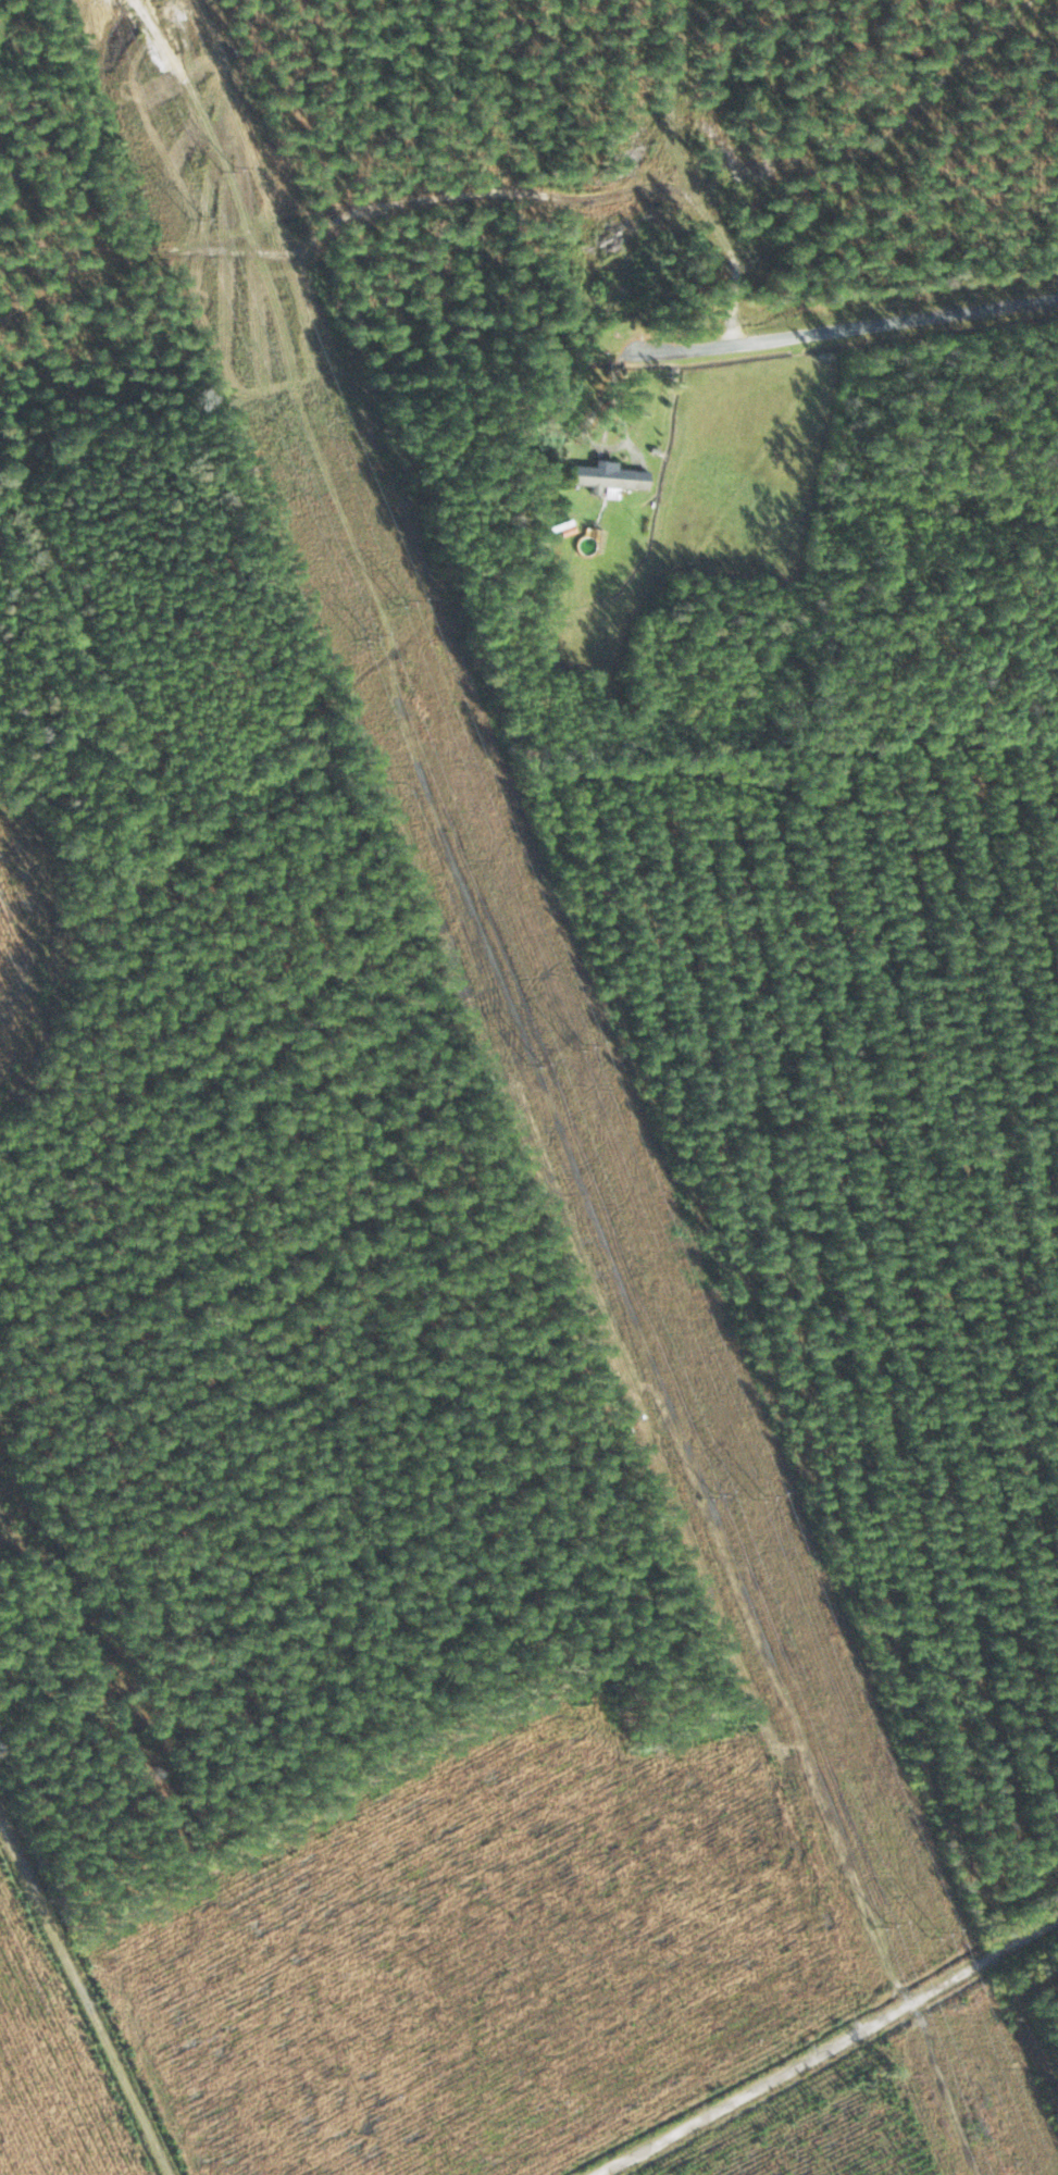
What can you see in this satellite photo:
power tower: (228, 167)
power tower: (197, 217)
road: (821, 323)
building: (608, 477)
power tower: (401, 601)
power tower: (362, 634)
power tower: (575, 1045)
power tower: (534, 1061)
power tower: (757, 1495)
power tower: (711, 1499)
power tower: (879, 1925)
power tower: (936, 1935)
road: (98, 1949)
road: (824, 2048)

